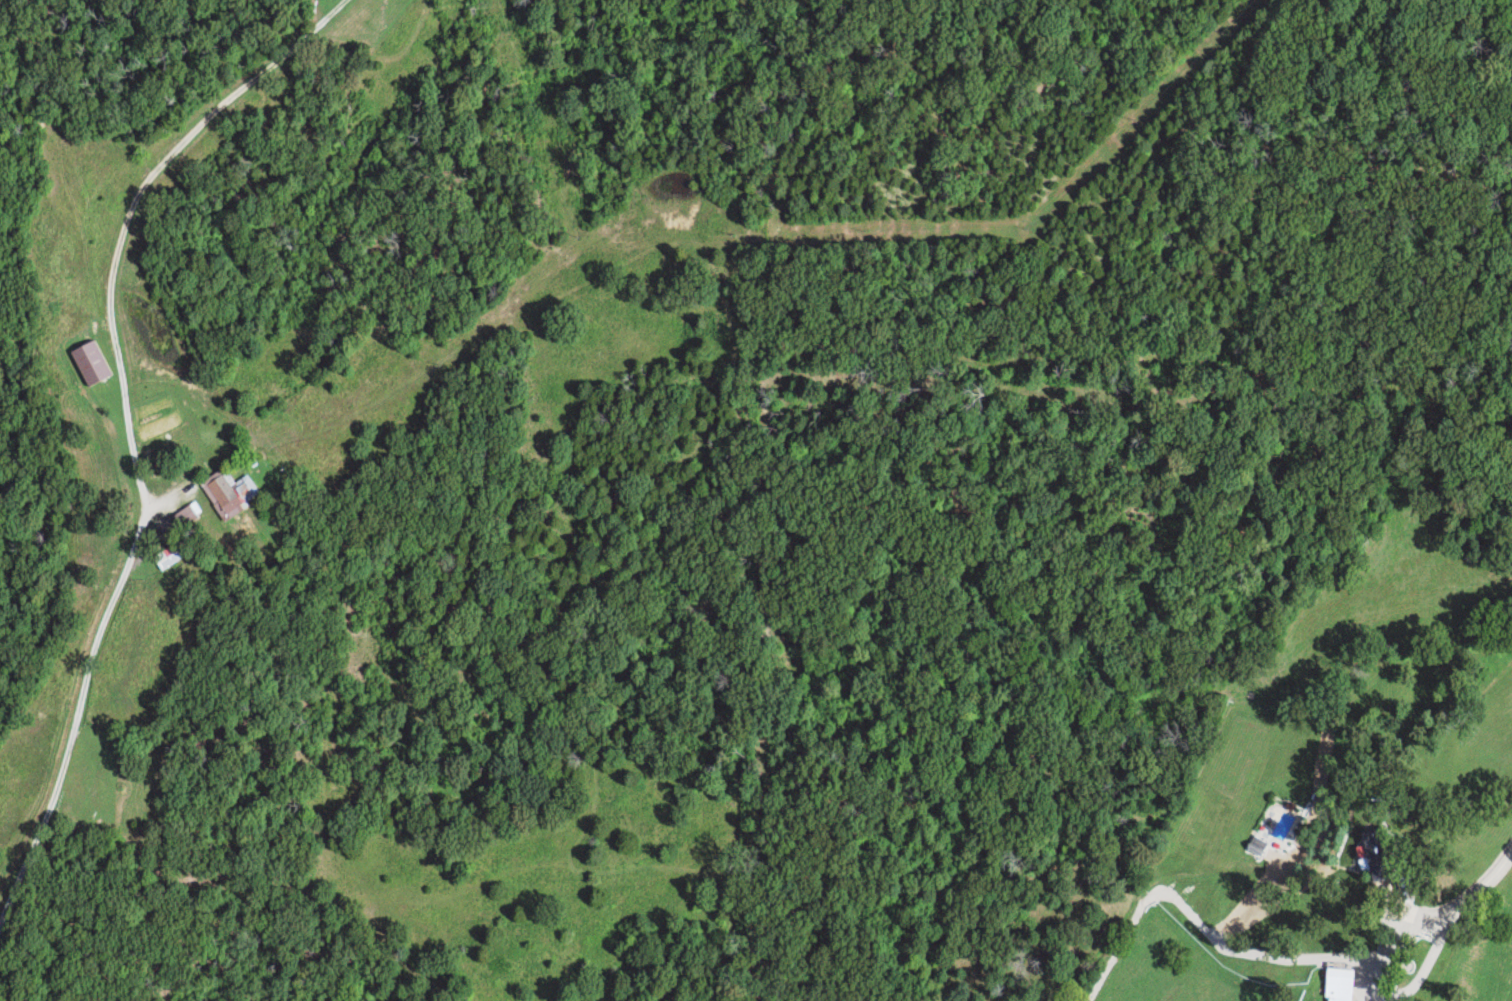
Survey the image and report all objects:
building: (94, 364)
building: (232, 494)
building: (171, 559)
road: (65, 734)
road: (1434, 920)
building: (1335, 986)

